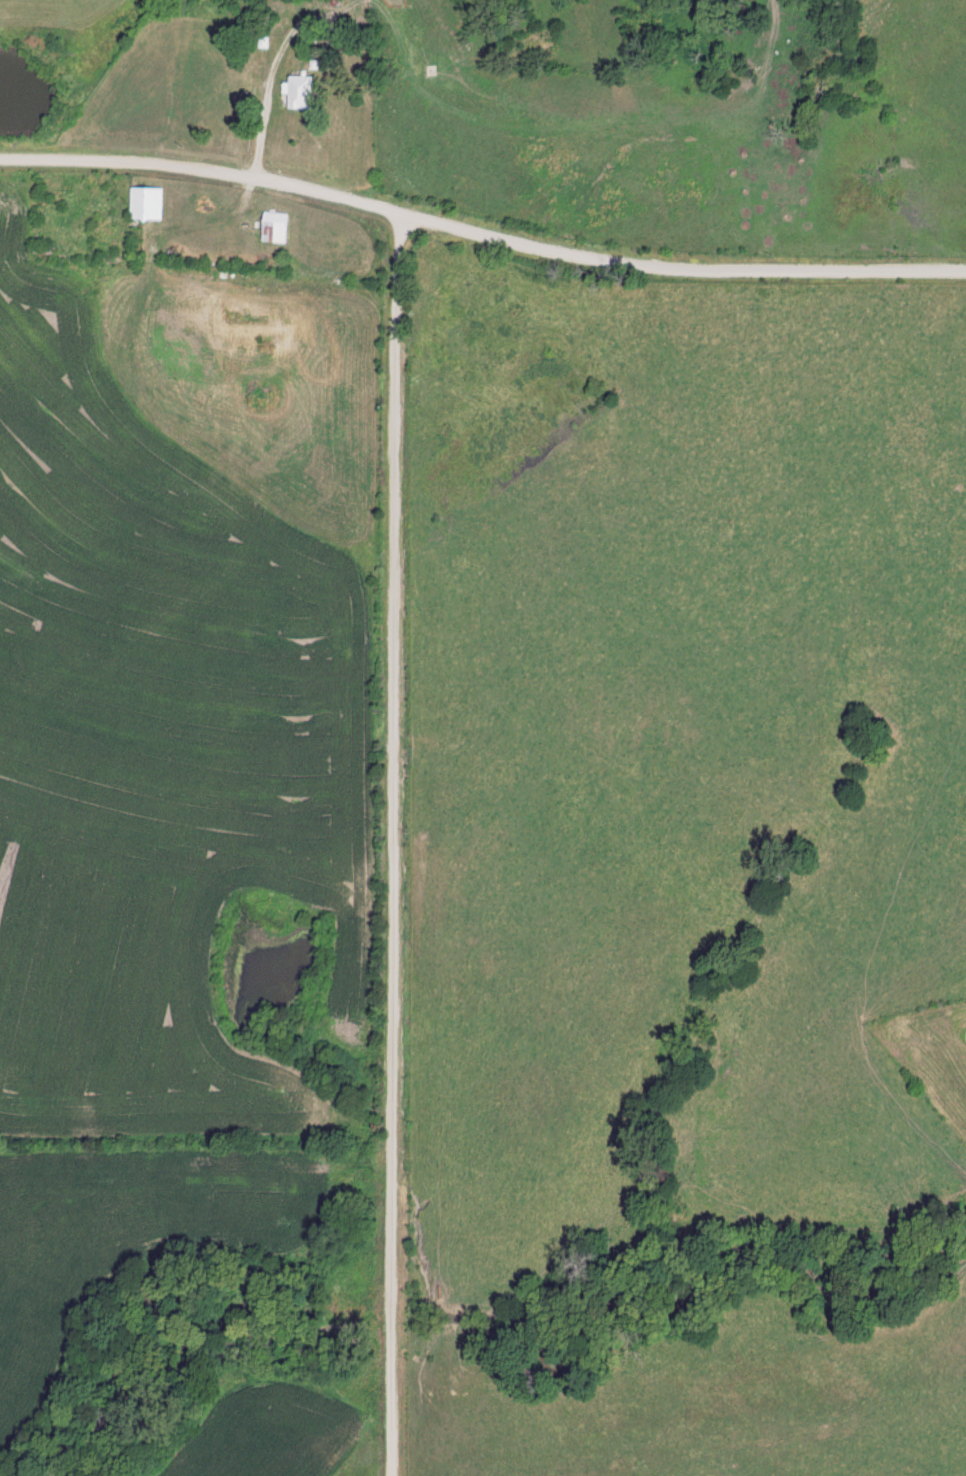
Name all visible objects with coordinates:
building: (297, 93)
building: (144, 202)
building: (273, 227)
road: (481, 233)
road: (393, 845)

